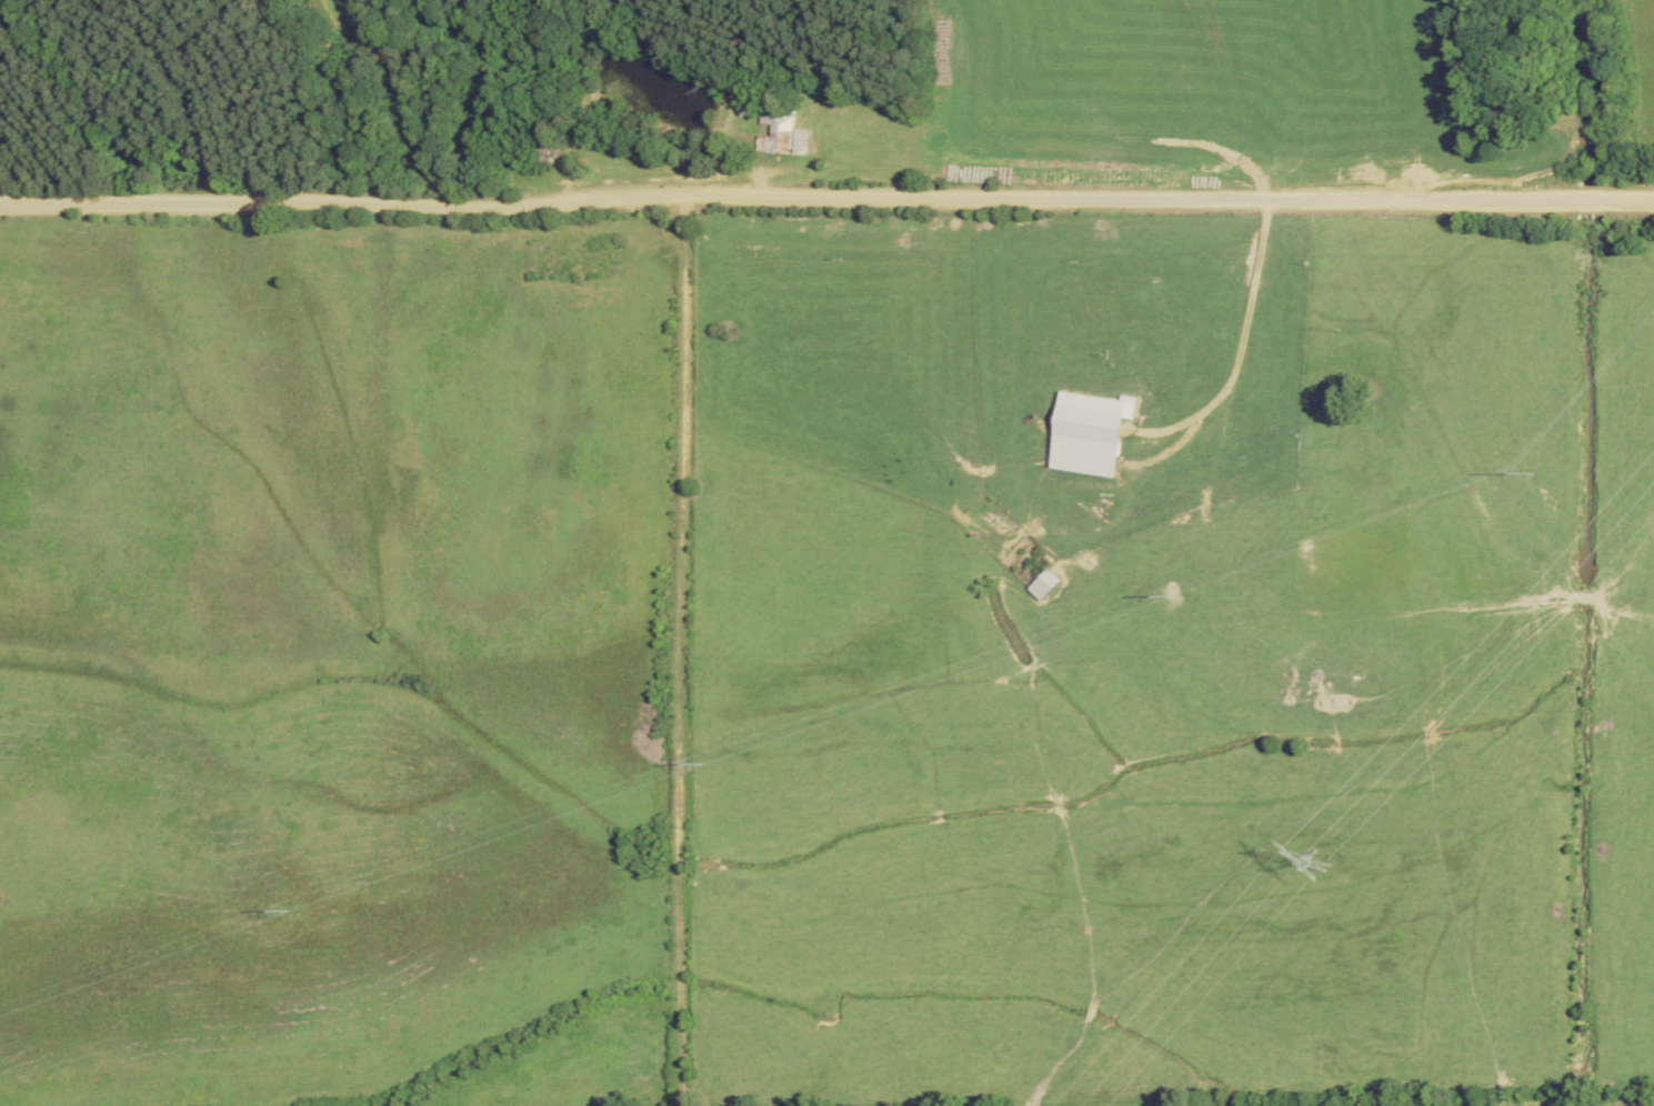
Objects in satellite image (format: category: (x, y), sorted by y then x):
building: (781, 131)
building: (545, 150)
road: (826, 198)
power tower: (1532, 467)
building: (1042, 584)
power tower: (1171, 593)
power tower: (701, 765)
power tower: (1310, 851)
power tower: (287, 908)

